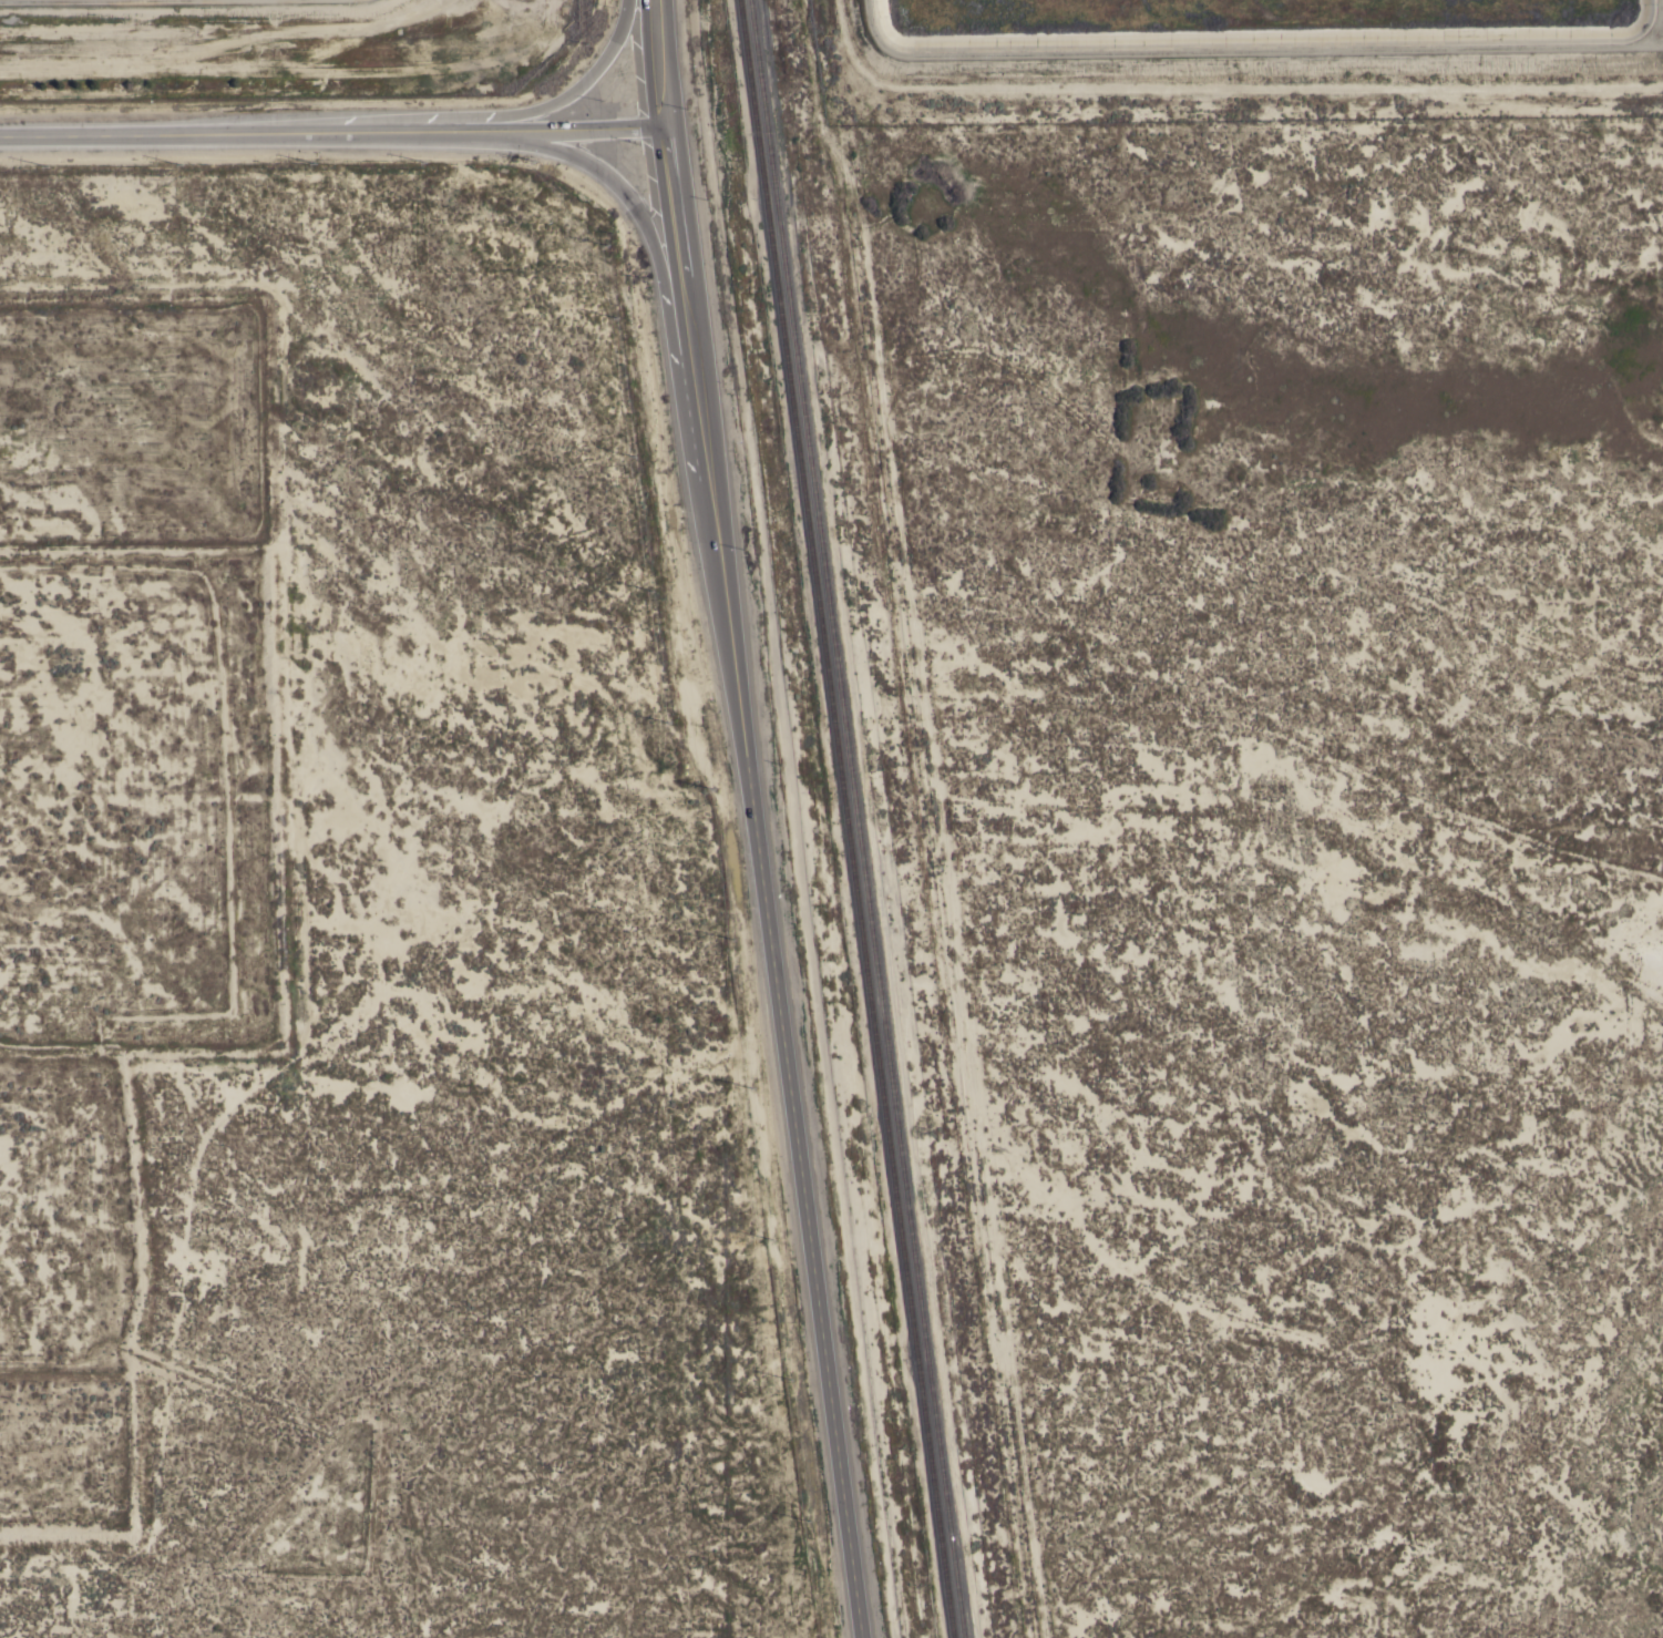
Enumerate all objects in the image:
wastewater plant: (274, 48)
road: (659, 61)
road: (454, 116)
road: (331, 134)
road: (646, 229)
railway: (845, 819)
railway: (856, 819)
road: (933, 819)
road: (759, 880)

